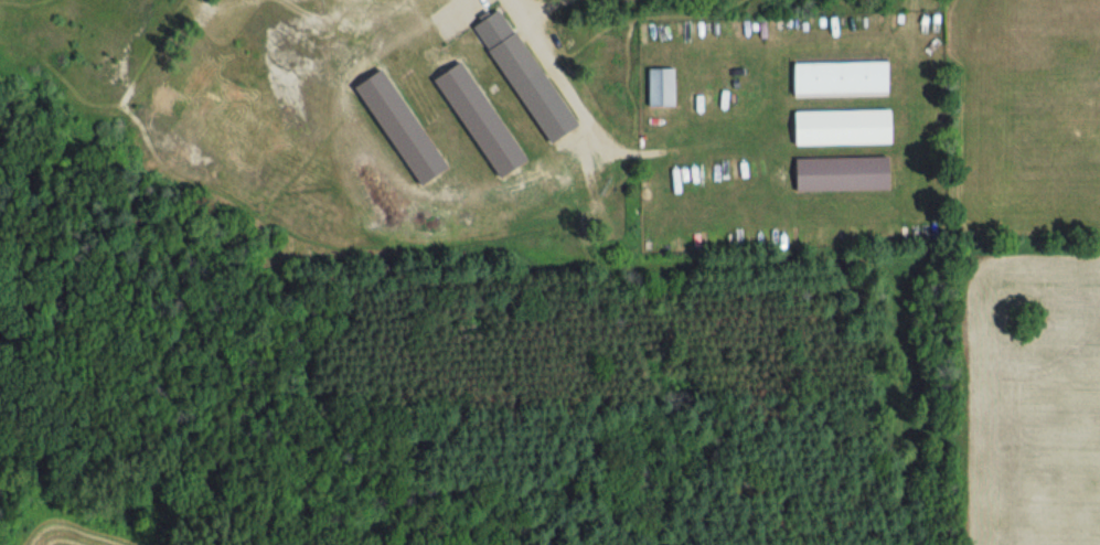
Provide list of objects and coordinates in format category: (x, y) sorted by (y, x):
building: (833, 79)
building: (655, 87)
building: (834, 128)
building: (835, 174)

